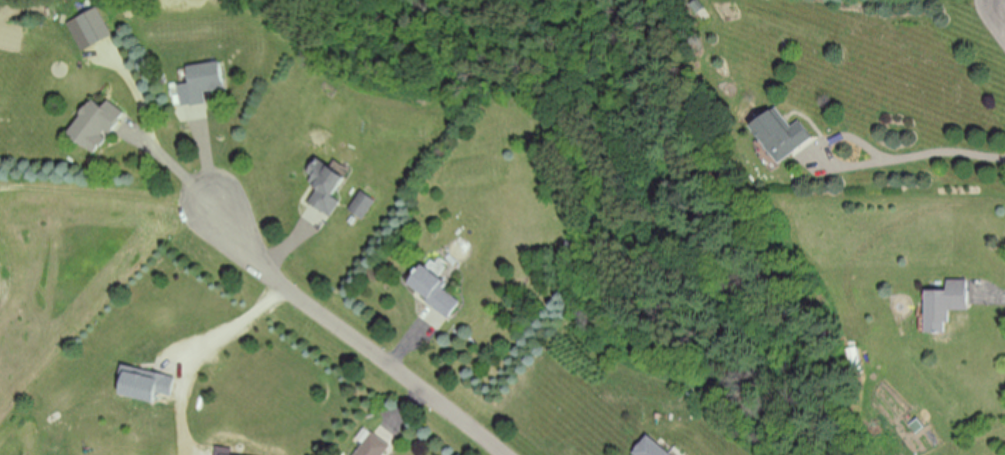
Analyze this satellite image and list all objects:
building: (97, 27)
building: (203, 84)
building: (99, 129)
building: (783, 135)
road: (823, 147)
road: (945, 149)
road: (208, 167)
road: (183, 172)
building: (437, 288)
building: (949, 306)
road: (237, 324)
road: (367, 338)
building: (150, 384)
building: (919, 426)
building: (375, 445)
building: (653, 448)

